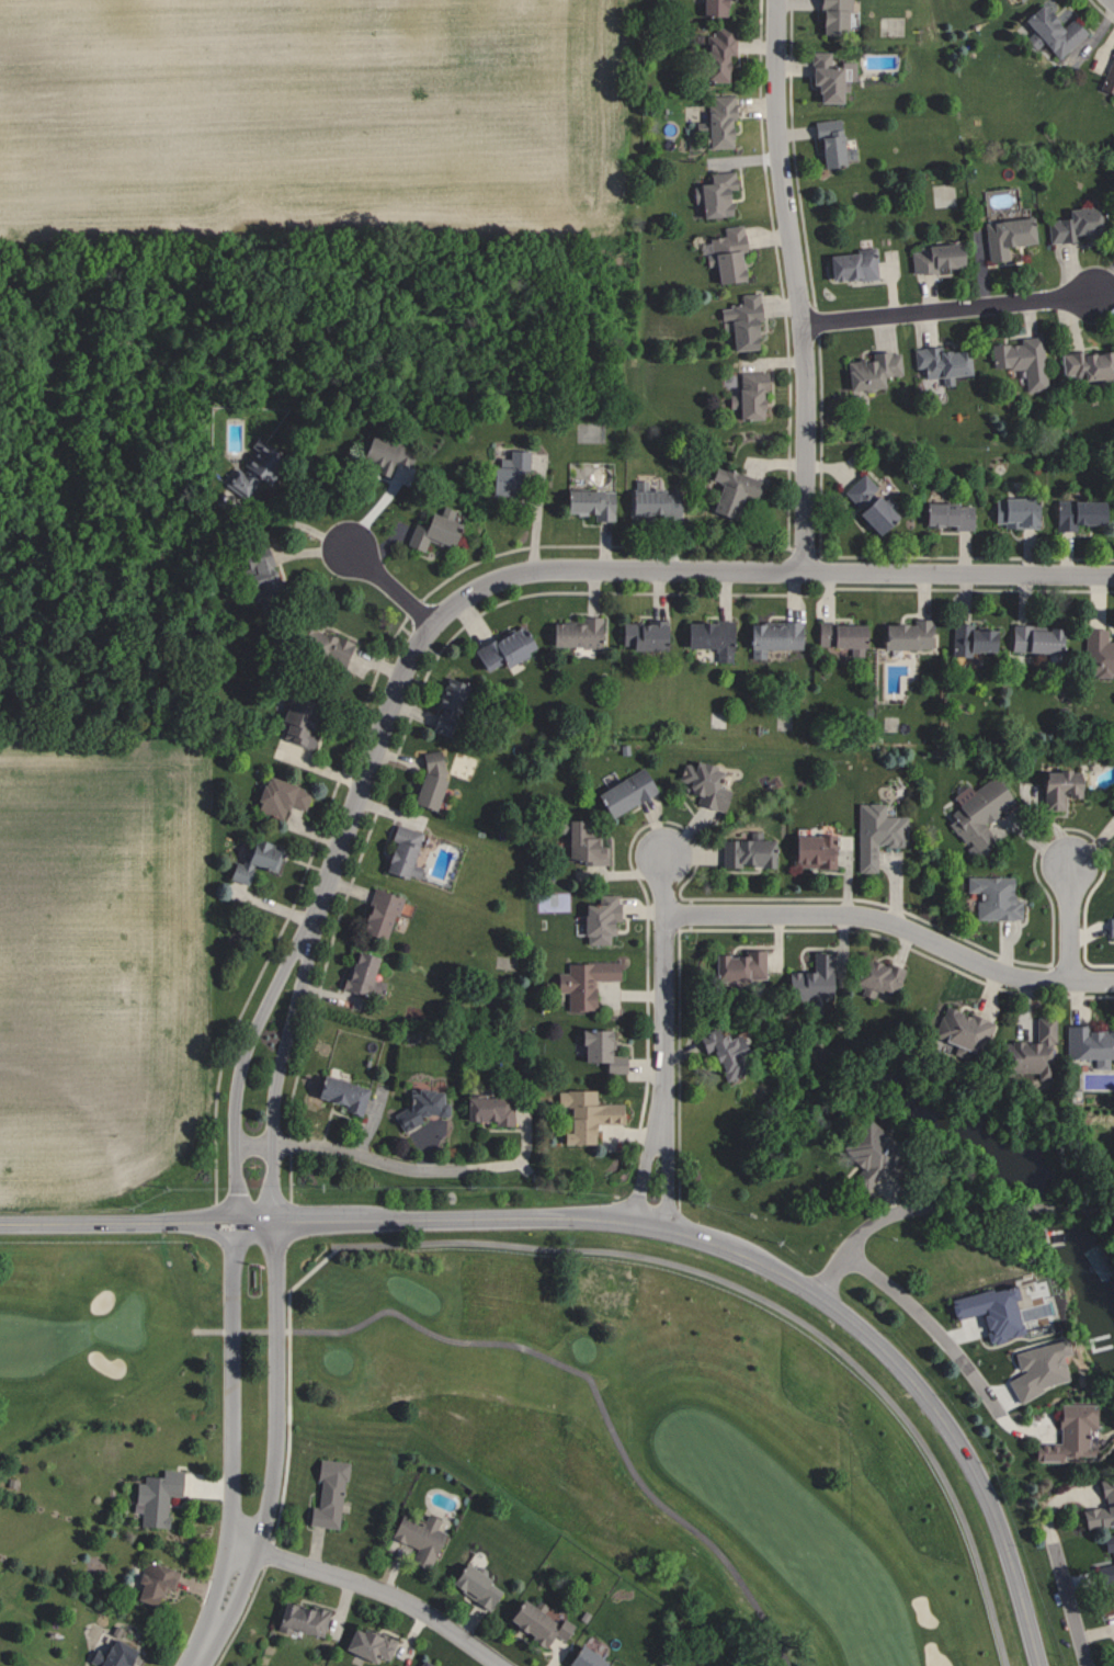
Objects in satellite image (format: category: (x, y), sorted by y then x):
road: (1112, 1)
building: (711, 5)
road: (1102, 10)
building: (831, 15)
building: (1050, 30)
building: (716, 52)
building: (828, 75)
building: (1109, 75)
building: (717, 118)
building: (830, 141)
building: (713, 192)
building: (1072, 223)
building: (1004, 235)
building: (724, 252)
building: (933, 256)
building: (851, 263)
road: (812, 275)
road: (796, 284)
road: (950, 308)
building: (740, 319)
building: (1022, 359)
building: (942, 361)
building: (1087, 364)
building: (871, 369)
building: (747, 394)
building: (383, 452)
building: (248, 468)
building: (505, 471)
building: (729, 488)
building: (588, 501)
building: (867, 501)
building: (1013, 511)
road: (372, 512)
building: (1076, 512)
building: (946, 514)
road: (532, 520)
building: (431, 529)
road: (967, 557)
building: (257, 565)
road: (601, 569)
road: (393, 587)
road: (476, 617)
building: (575, 632)
building: (640, 634)
building: (906, 634)
building: (840, 635)
building: (708, 636)
building: (771, 636)
building: (1034, 637)
building: (968, 638)
building: (320, 644)
building: (501, 647)
building: (1096, 651)
building: (444, 705)
road: (366, 711)
building: (293, 721)
building: (428, 779)
building: (702, 783)
building: (1057, 786)
building: (623, 792)
building: (277, 796)
building: (976, 812)
building: (875, 832)
building: (582, 843)
building: (811, 849)
building: (399, 850)
building: (746, 850)
building: (253, 859)
building: (993, 897)
building: (377, 911)
building: (598, 918)
road: (1069, 922)
road: (894, 926)
building: (1110, 926)
building: (737, 965)
building: (361, 976)
building: (875, 976)
building: (582, 982)
building: (809, 982)
building: (959, 1031)
road: (664, 1040)
building: (1089, 1043)
building: (598, 1050)
building: (720, 1050)
building: (1028, 1051)
road: (242, 1066)
road: (280, 1073)
building: (340, 1092)
building: (419, 1107)
building: (487, 1109)
building: (583, 1114)
building: (865, 1152)
road: (400, 1165)
road: (946, 1206)
road: (325, 1221)
road: (734, 1288)
building: (989, 1311)
road: (400, 1313)
road: (928, 1319)
road: (254, 1330)
building: (1036, 1369)
road: (914, 1381)
road: (231, 1385)
road: (278, 1389)
building: (1068, 1433)
park: (436, 1473)
building: (10, 1483)
building: (327, 1493)
building: (155, 1496)
building: (1101, 1507)
building: (419, 1538)
building: (1112, 1557)
building: (154, 1582)
building: (474, 1587)
road: (380, 1590)
building: (1106, 1603)
road: (1069, 1605)
road: (221, 1609)
building: (299, 1620)
building: (536, 1623)
building: (366, 1644)
building: (110, 1654)
building: (582, 1658)
building: (422, 1664)

